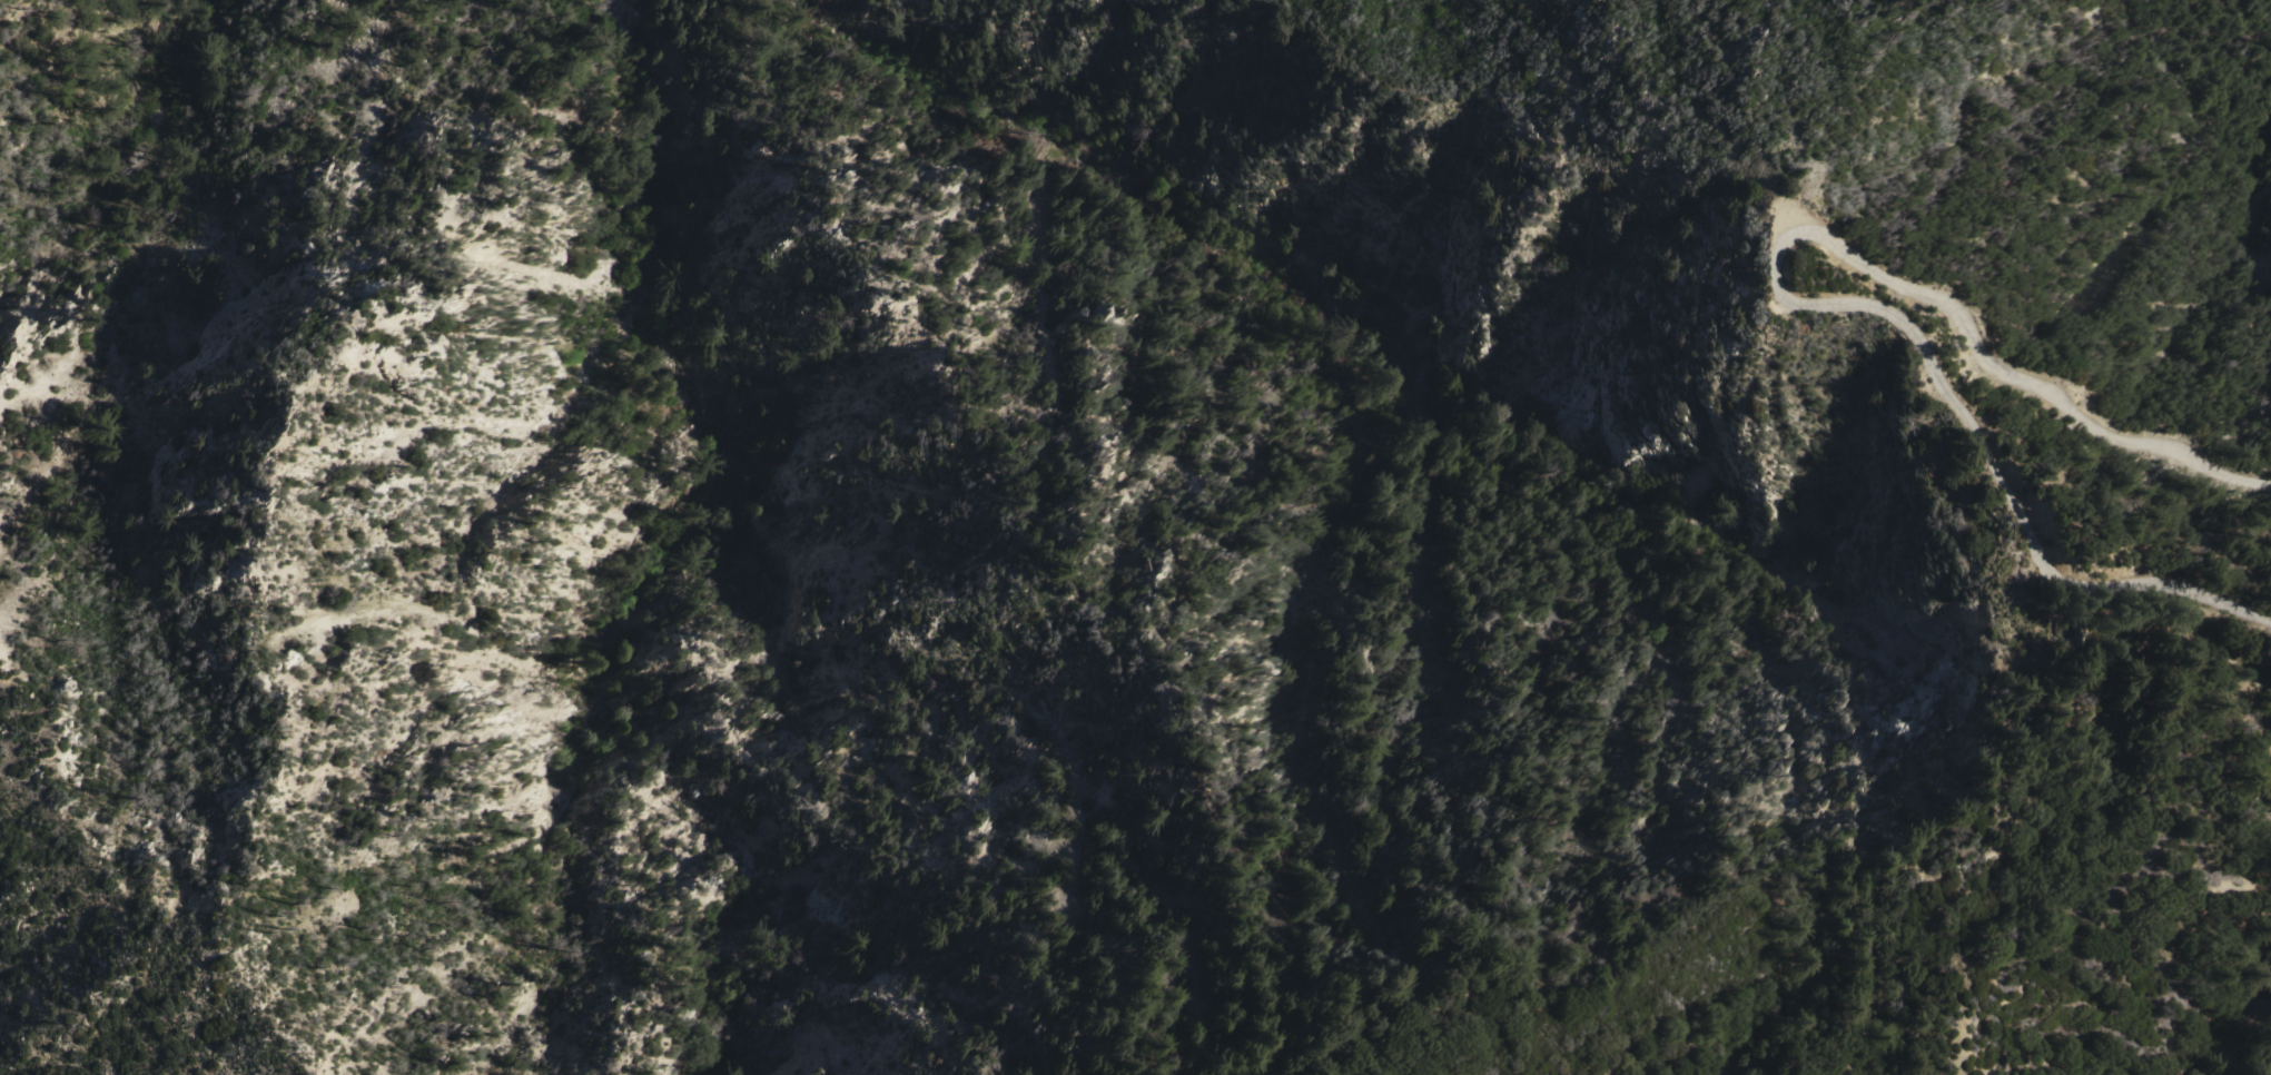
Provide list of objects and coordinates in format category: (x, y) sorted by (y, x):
road: (1755, 284)

